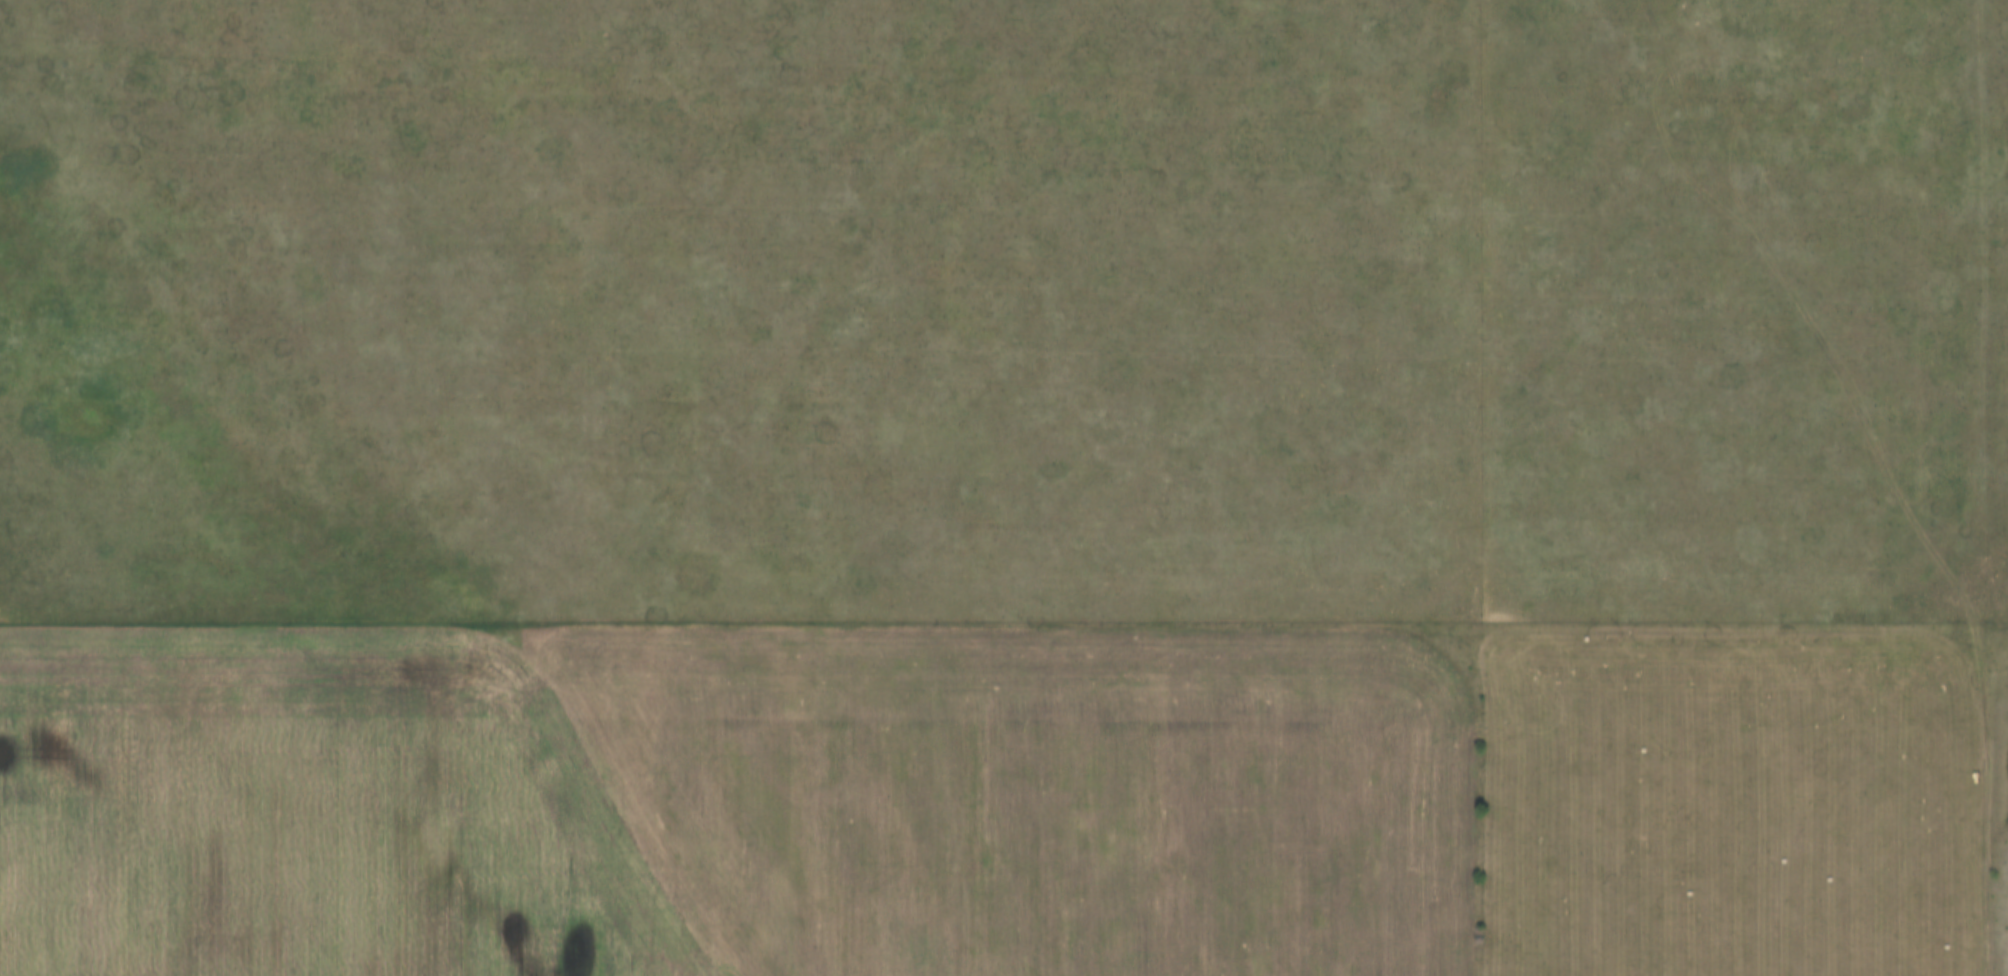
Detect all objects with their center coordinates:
road: (1982, 487)

